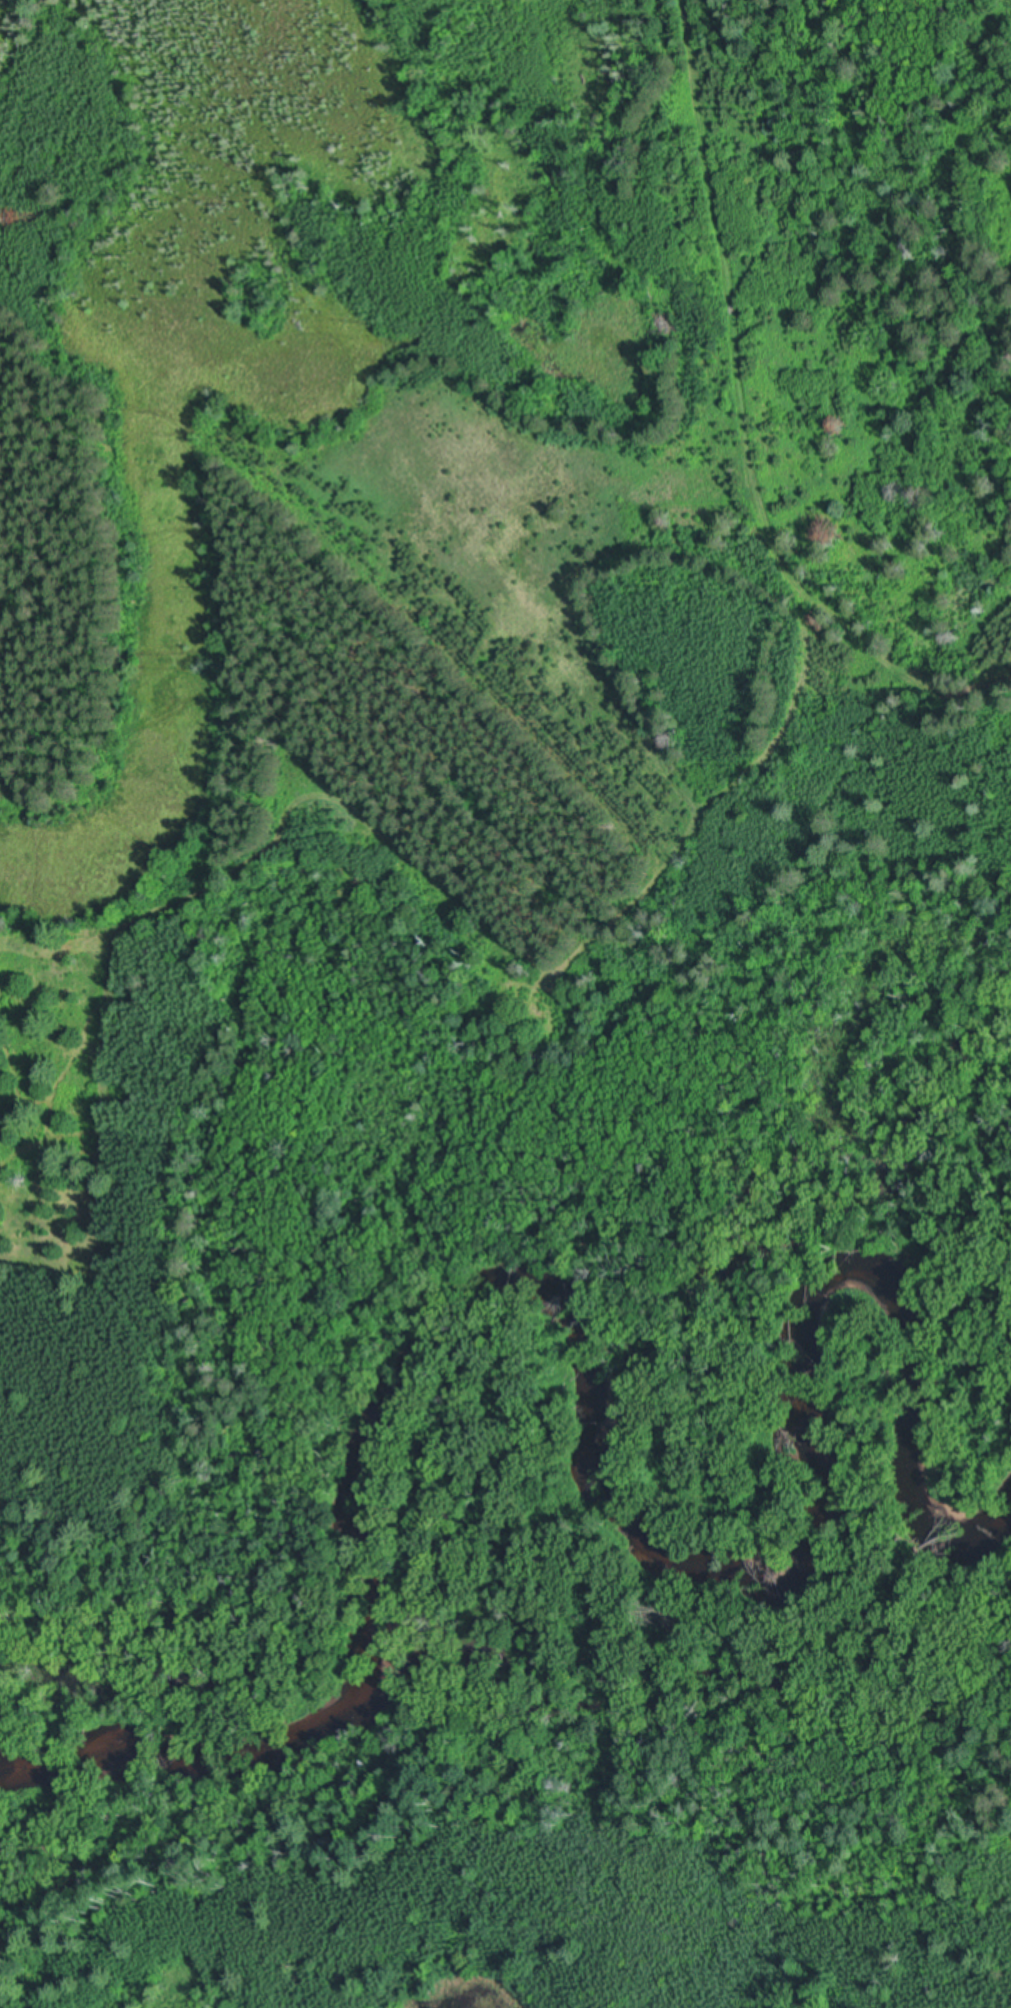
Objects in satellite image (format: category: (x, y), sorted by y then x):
river: (596, 1317)

